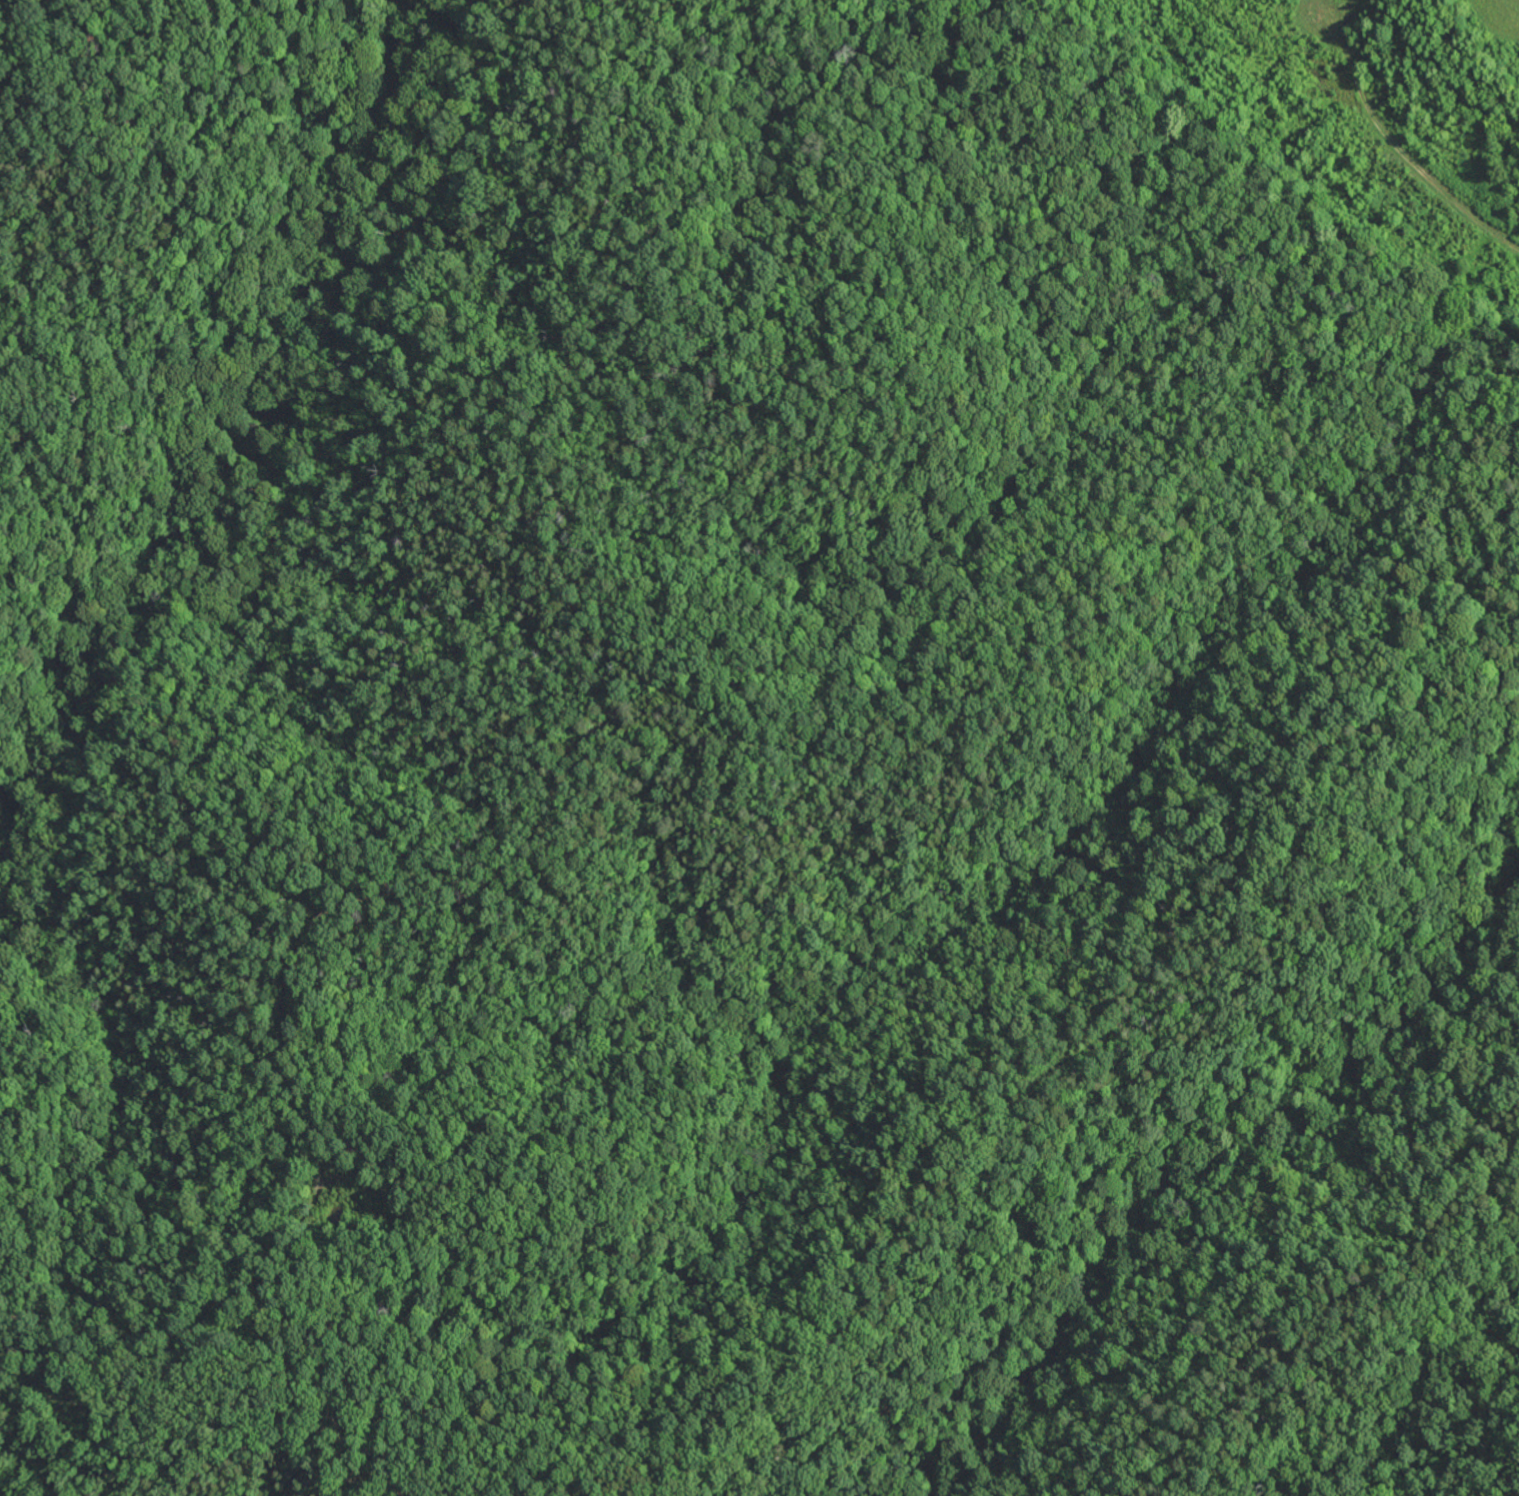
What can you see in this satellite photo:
road: (599, 711)

